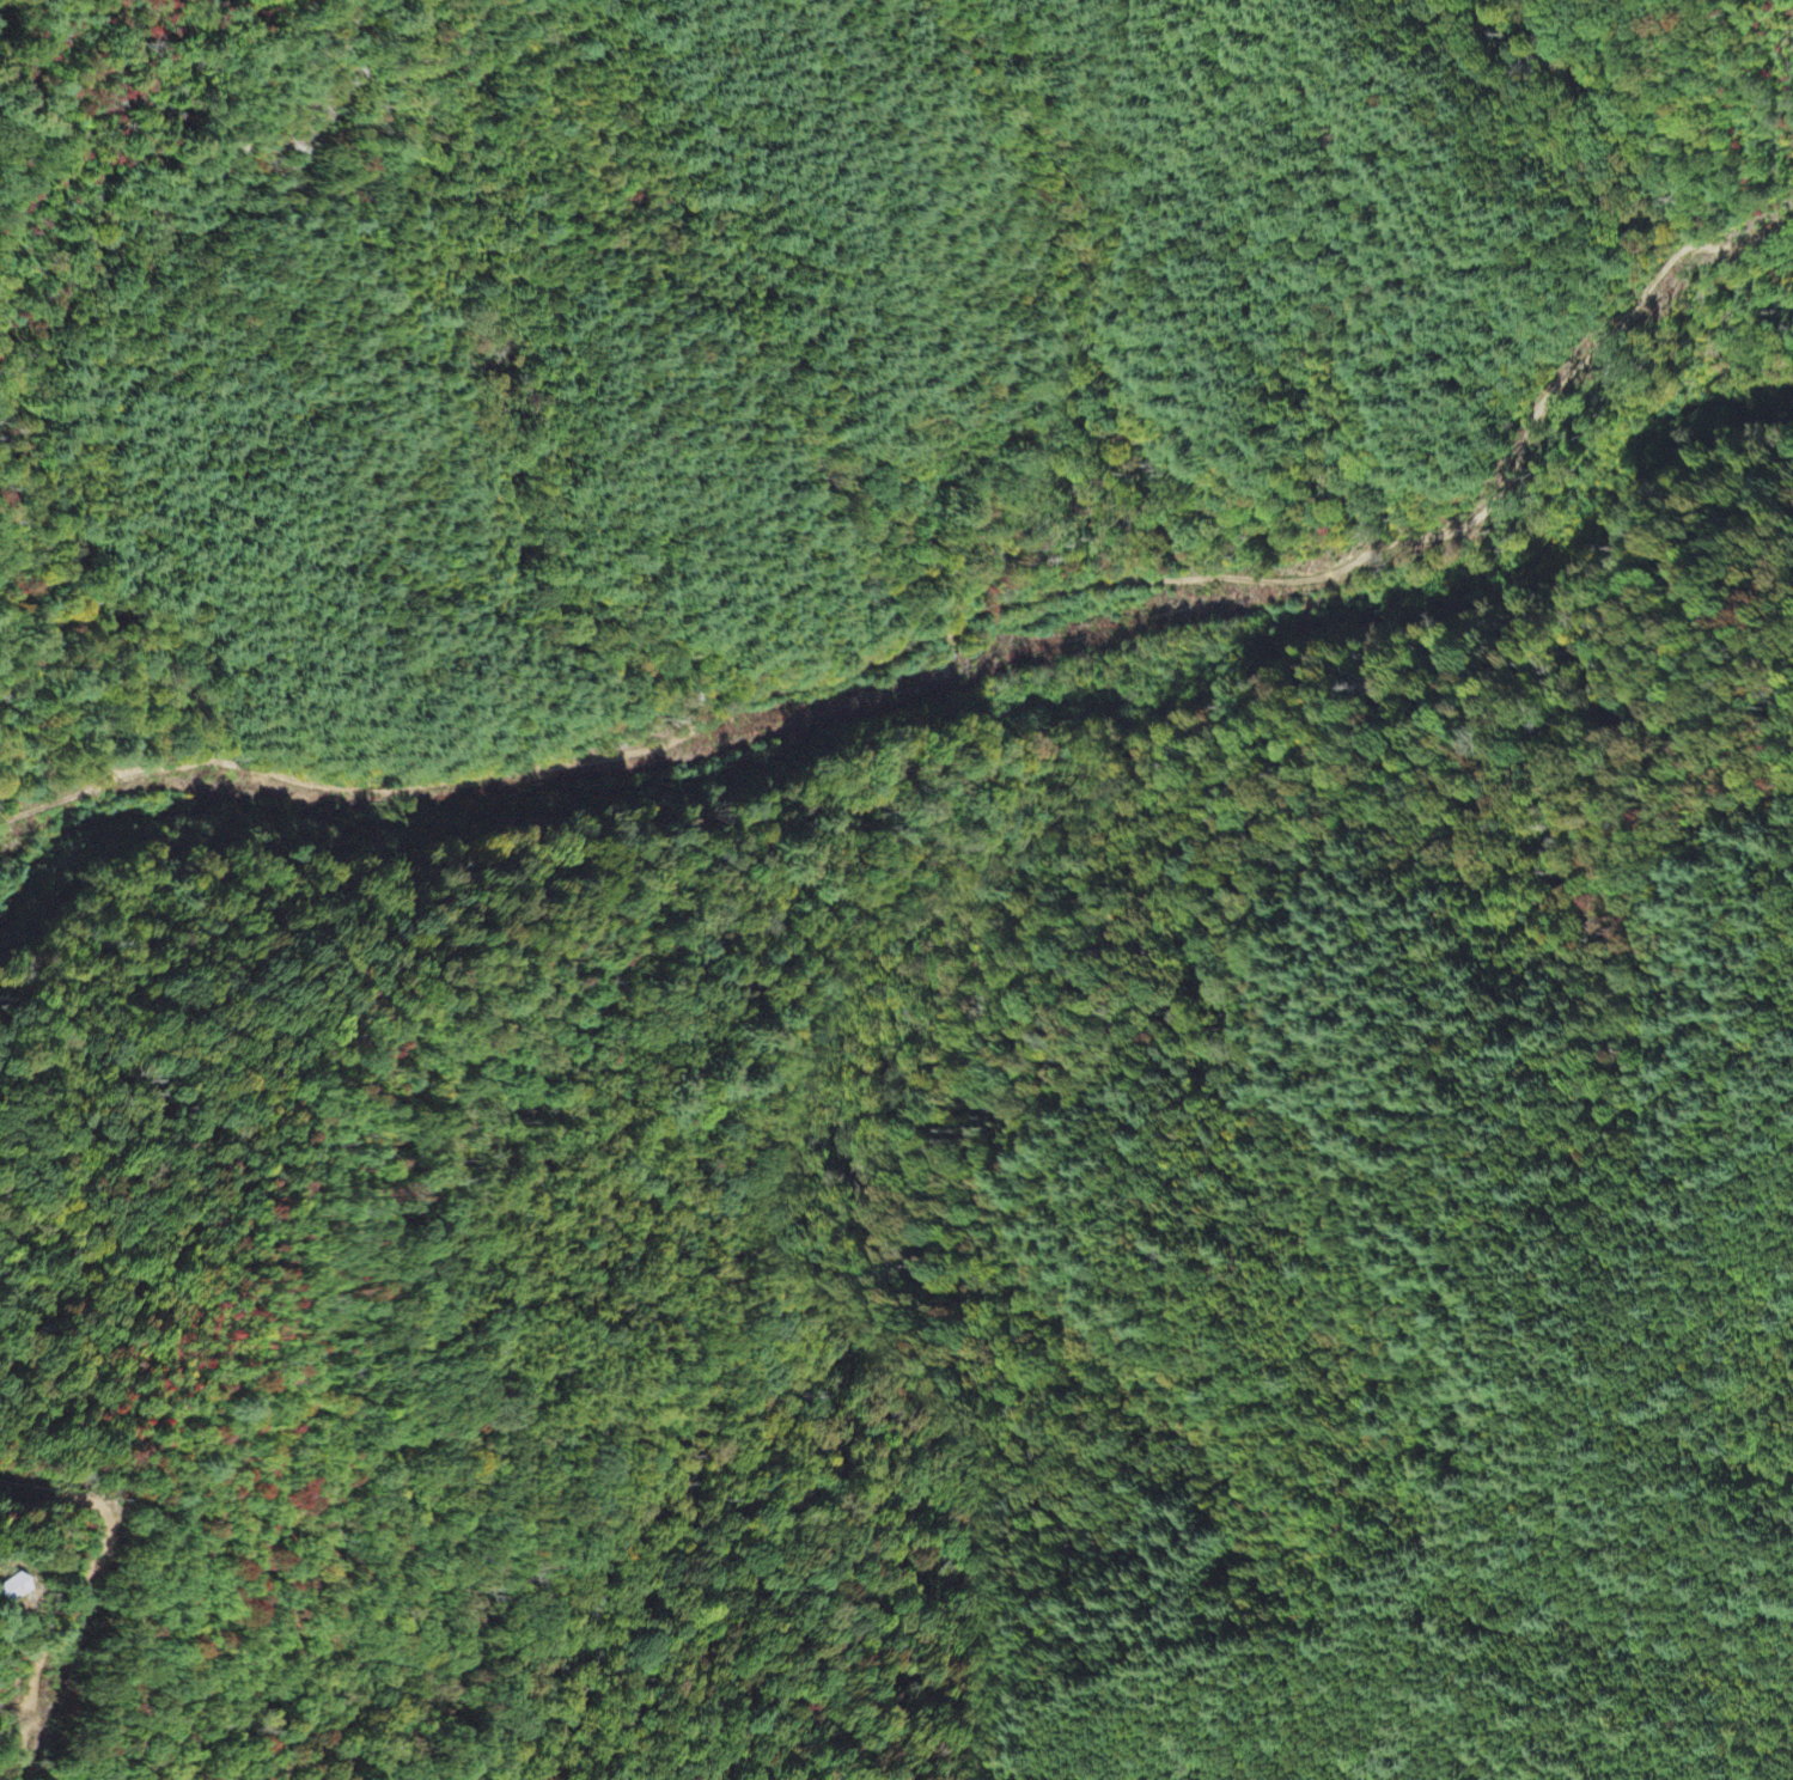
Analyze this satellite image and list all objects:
road: (952, 633)

